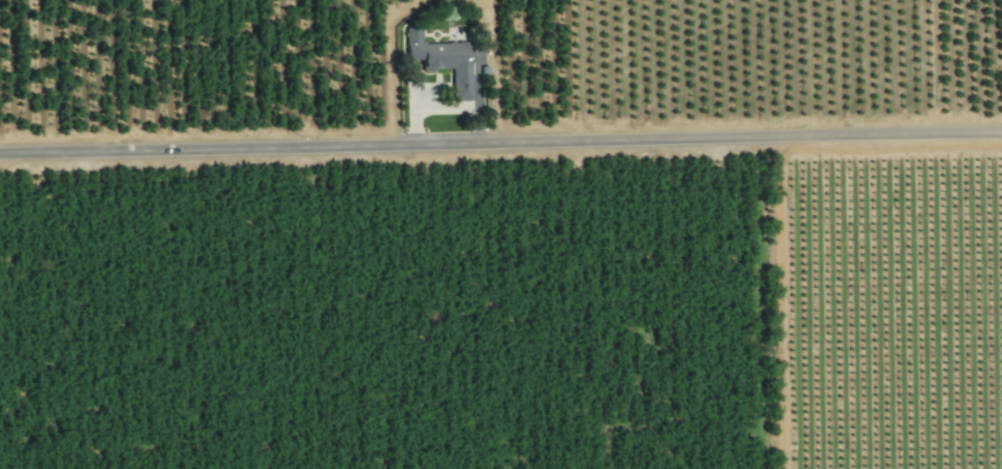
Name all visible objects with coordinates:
building: (443, 59)
road: (500, 145)

